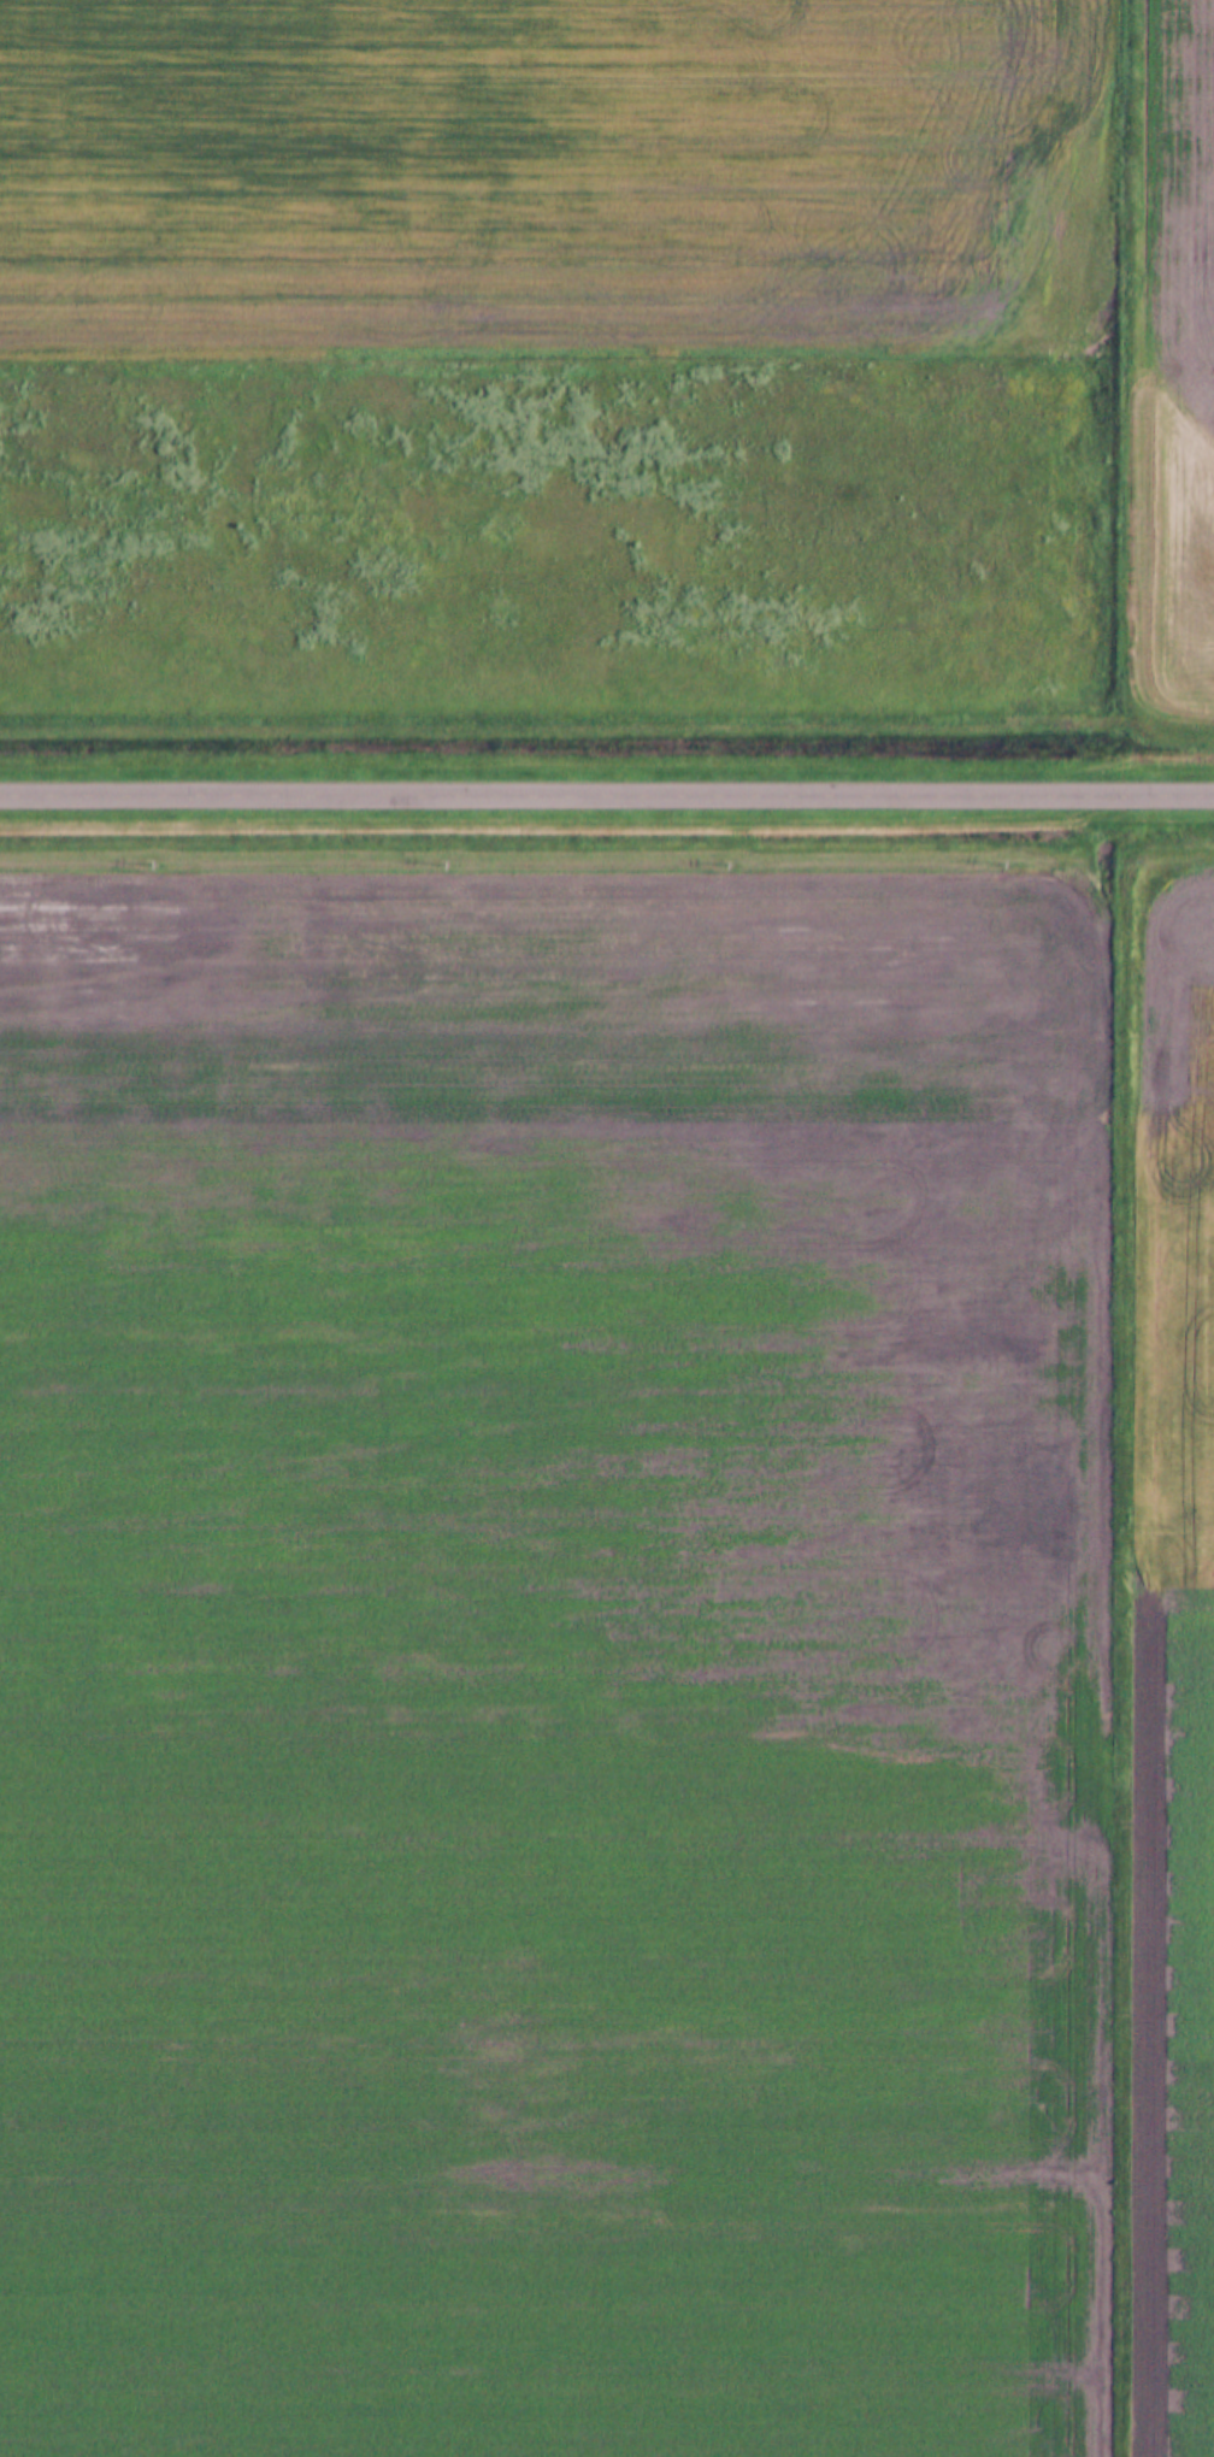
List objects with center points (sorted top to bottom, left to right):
road: (606, 796)

